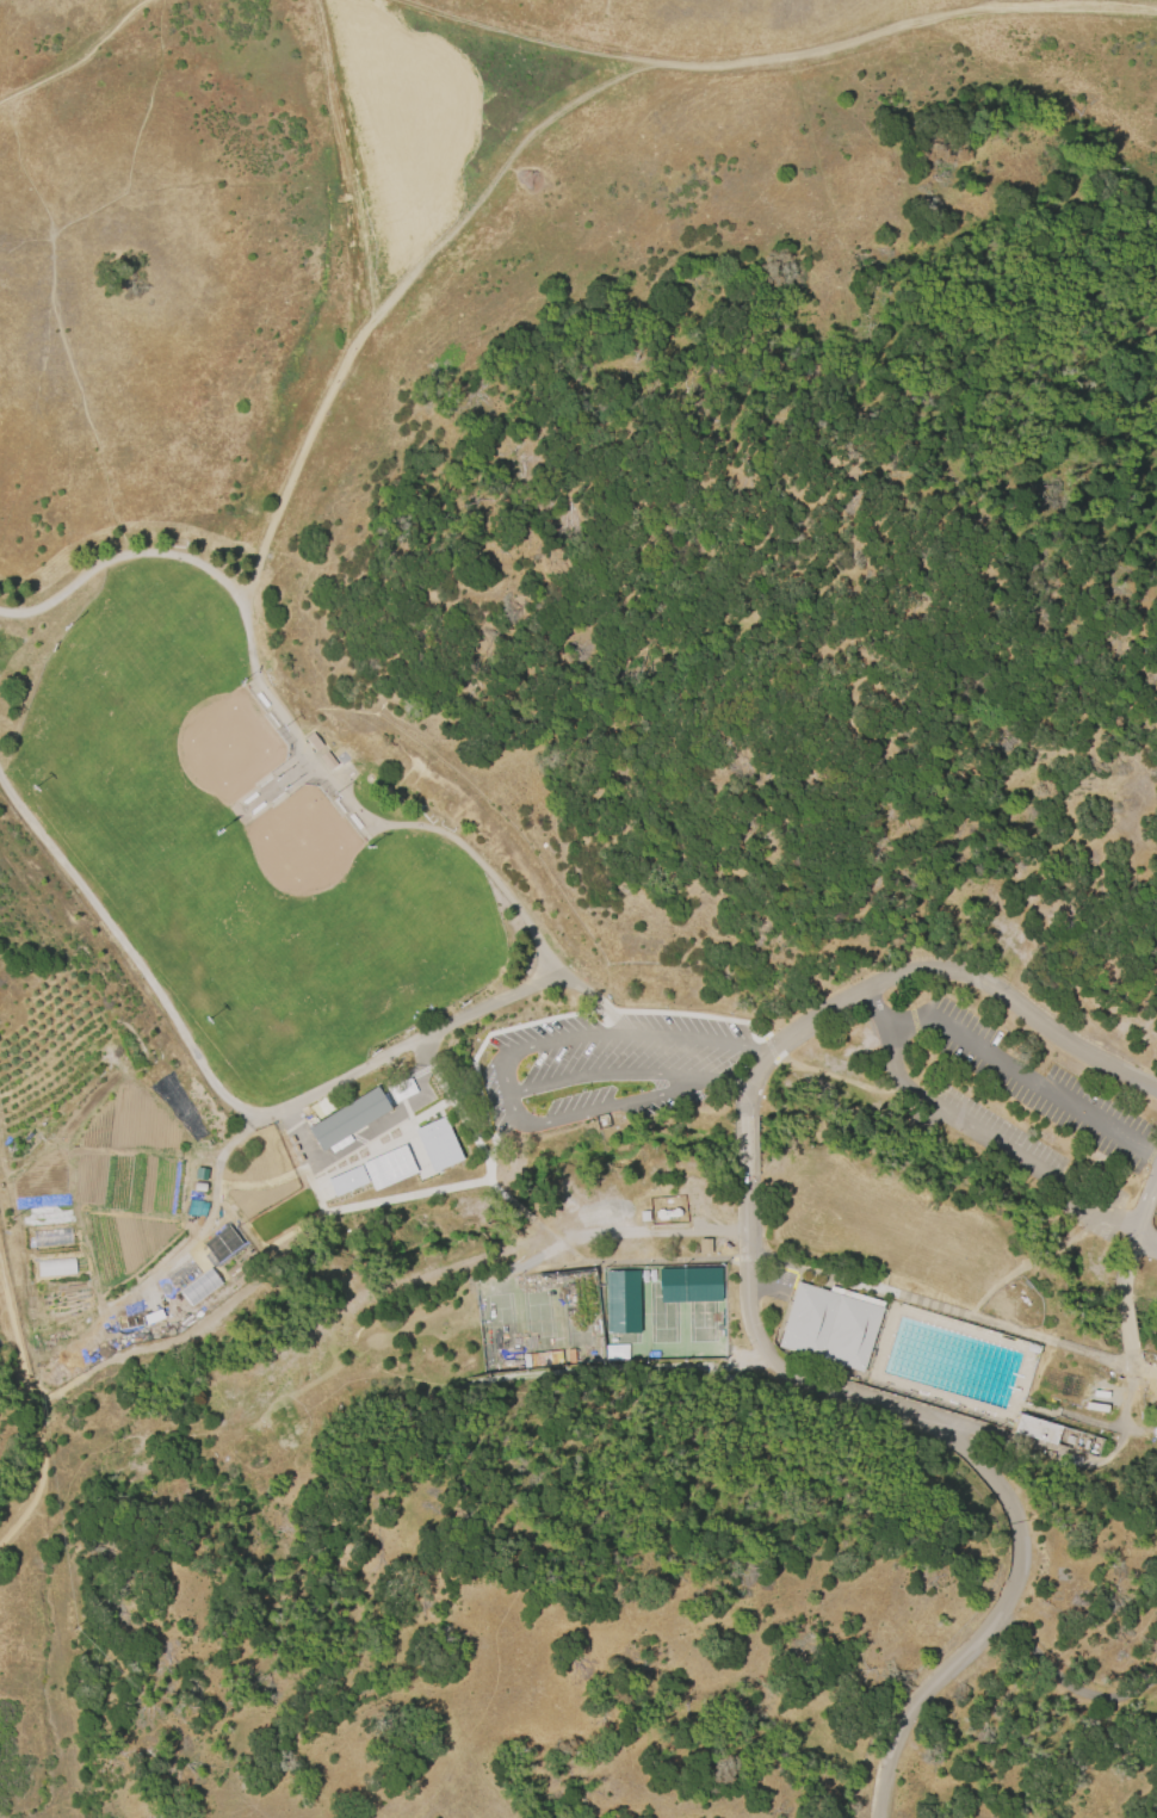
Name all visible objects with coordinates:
road: (792, 55)
road: (75, 56)
road: (339, 180)
road: (110, 203)
road: (395, 299)
road: (80, 396)
road: (31, 419)
park: (119, 695)
park: (219, 740)
building: (311, 742)
road: (303, 748)
building: (326, 760)
park: (234, 845)
park: (297, 847)
road: (126, 948)
park: (345, 960)
road: (964, 978)
road: (878, 1009)
road: (661, 1034)
parking lot: (676, 1059)
road: (1025, 1072)
road: (691, 1076)
road: (563, 1082)
road: (750, 1083)
road: (515, 1115)
parking lot: (1032, 1117)
building: (347, 1119)
road: (240, 1136)
road: (745, 1142)
building: (437, 1144)
road: (1004, 1145)
road: (483, 1164)
building: (388, 1168)
building: (346, 1181)
road: (1145, 1201)
building: (51, 1235)
road: (750, 1255)
road: (605, 1259)
road: (1125, 1262)
building: (55, 1264)
building: (199, 1287)
park: (701, 1310)
park: (625, 1311)
park: (663, 1311)
road: (960, 1313)
park: (576, 1315)
park: (538, 1319)
park: (500, 1324)
building: (831, 1324)
road: (1126, 1324)
road: (1143, 1379)
road: (1127, 1384)
road: (33, 1429)
building: (1057, 1434)
road: (973, 1452)
road: (561, 1548)
road: (1068, 1680)

